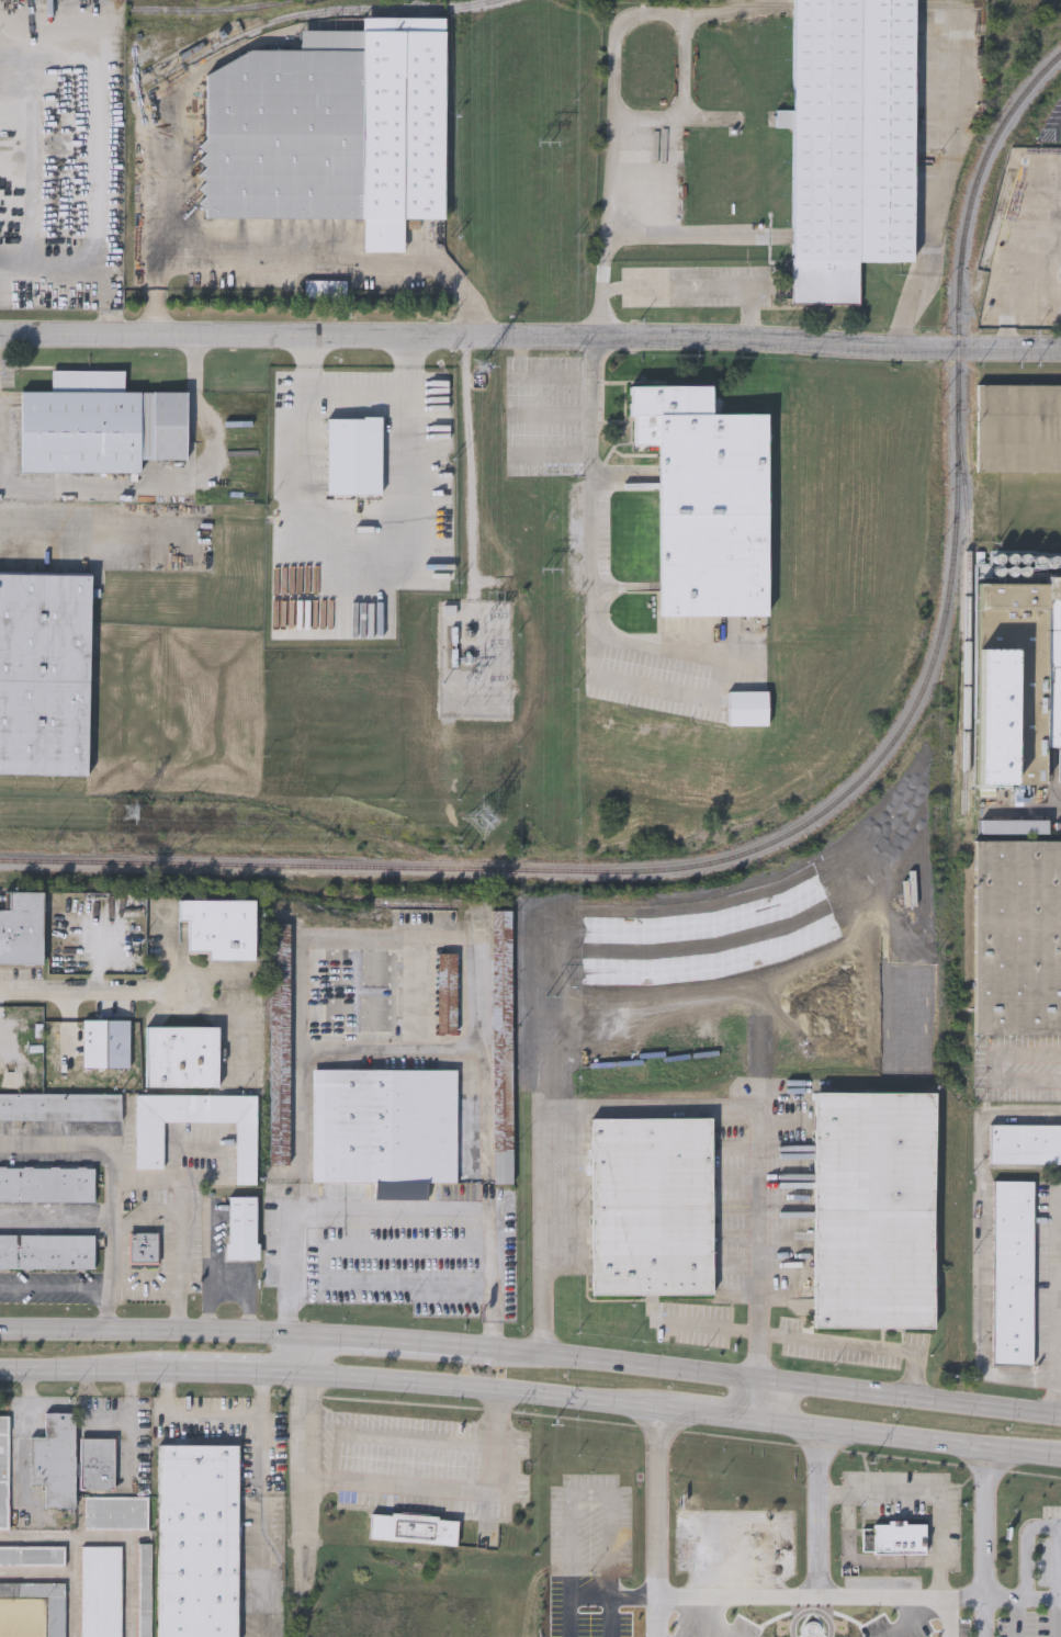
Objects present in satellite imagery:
railway: (753, 2)
railway: (854, 2)
railway: (952, 3)
railway: (204, 9)
railway: (307, 12)
building: (332, 127)
building: (850, 140)
road: (609, 151)
road: (31, 167)
road: (939, 193)
railway: (986, 248)
road: (307, 257)
road: (692, 294)
road: (1026, 297)
road: (530, 340)
power tower: (483, 366)
building: (99, 422)
building: (1018, 425)
road: (169, 481)
building: (707, 498)
road: (84, 515)
road: (590, 561)
road: (355, 565)
power tower: (497, 569)
power tower: (549, 571)
building: (451, 611)
railway: (968, 614)
power substation: (476, 655)
building: (44, 671)
building: (1018, 678)
road: (1059, 811)
railway: (820, 813)
power tower: (133, 815)
power tower: (486, 822)
building: (21, 926)
building: (221, 926)
building: (1018, 935)
road: (388, 942)
building: (355, 989)
building: (447, 991)
power tower: (551, 991)
road: (95, 992)
building: (279, 1002)
building: (501, 1043)
building: (181, 1054)
road: (995, 1069)
building: (60, 1104)
road: (664, 1104)
building: (385, 1128)
building: (1026, 1142)
building: (148, 1143)
road: (149, 1176)
building: (47, 1182)
building: (652, 1203)
building: (873, 1207)
road: (396, 1210)
building: (241, 1224)
road: (111, 1229)
road: (982, 1241)
building: (144, 1246)
building: (46, 1249)
road: (328, 1266)
building: (1013, 1269)
road: (223, 1276)
road: (79, 1284)
road: (145, 1284)
road: (1056, 1298)
road: (211, 1303)
road: (145, 1331)
road: (811, 1337)
road: (393, 1340)
road: (297, 1357)
road: (76, 1373)
road: (228, 1377)
road: (778, 1379)
road: (485, 1388)
road: (759, 1397)
road: (711, 1411)
road: (212, 1418)
road: (131, 1421)
power tower: (554, 1424)
road: (392, 1436)
road: (25, 1437)
road: (908, 1437)
building: (55, 1458)
building: (98, 1461)
building: (4, 1469)
road: (303, 1480)
road: (453, 1494)
road: (930, 1495)
road: (590, 1497)
building: (116, 1511)
road: (819, 1511)
road: (655, 1520)
road: (984, 1521)
building: (414, 1526)
road: (260, 1527)
road: (113, 1535)
building: (894, 1535)
building: (196, 1539)
road: (1027, 1547)
building: (32, 1554)
road: (74, 1554)
road: (68, 1573)
building: (101, 1590)
road: (820, 1596)
road: (613, 1598)
road: (1022, 1598)
building: (145, 1612)
building: (56, 1616)
road: (917, 1616)
road: (949, 1616)
road: (983, 1616)
road: (693, 1617)
road: (1017, 1617)
road: (1058, 1617)

